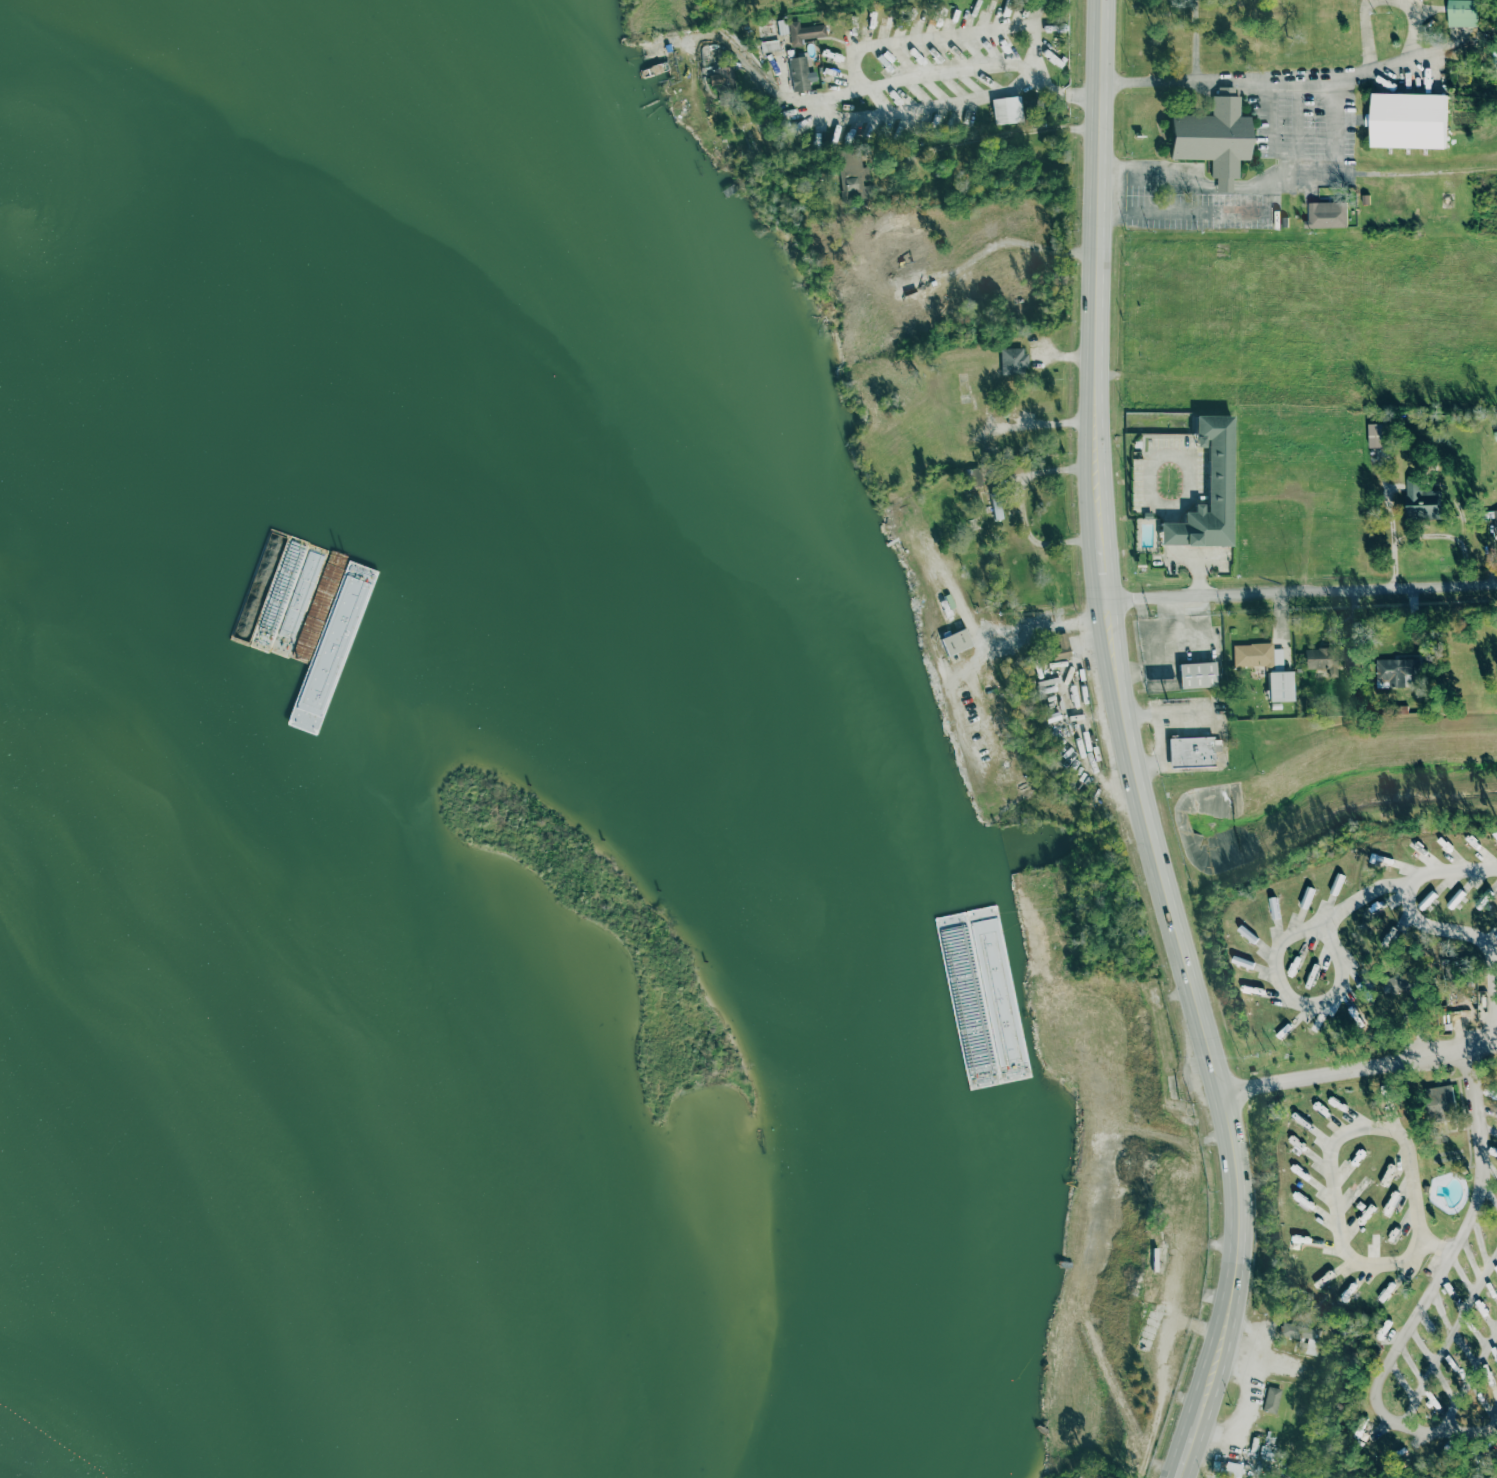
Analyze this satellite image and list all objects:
building: (1463, 13)
road: (1411, 26)
building: (782, 27)
building: (804, 32)
road: (1365, 33)
building: (839, 42)
building: (769, 45)
building: (669, 48)
building: (799, 73)
road: (1286, 79)
building: (724, 82)
road: (858, 85)
building: (1007, 111)
road: (905, 114)
building: (1409, 120)
road: (1273, 125)
road: (1295, 126)
building: (1213, 134)
road: (1000, 135)
road: (1335, 161)
road: (1180, 182)
building: (853, 183)
building: (1223, 184)
road: (1098, 209)
road: (1197, 213)
building: (1326, 214)
building: (909, 244)
road: (1065, 357)
building: (1014, 361)
road: (1047, 423)
building: (1376, 435)
building: (1495, 435)
road: (1094, 443)
building: (995, 449)
building: (960, 457)
building: (974, 478)
building: (1209, 489)
road: (1151, 493)
building: (1420, 499)
building: (996, 506)
road: (1022, 507)
building: (1493, 521)
road: (1426, 534)
road: (1300, 588)
road: (1041, 626)
road: (1085, 636)
building: (956, 643)
road: (980, 644)
building: (1061, 646)
building: (1253, 655)
building: (1331, 659)
building: (1401, 672)
building: (1198, 676)
building: (1044, 687)
building: (1280, 687)
road: (1079, 719)
road: (1160, 736)
building: (1193, 753)
road: (1403, 882)
road: (1476, 937)
road: (1189, 975)
building: (1399, 985)
road: (1295, 1002)
road: (1359, 1066)
building: (1440, 1103)
road: (1336, 1137)
river: (148, 1252)
road: (1428, 1291)
building: (1298, 1330)
building: (1148, 1333)
road: (1449, 1337)
road: (1469, 1379)
road: (1111, 1381)
building: (1271, 1399)
road: (1493, 1423)
building: (1269, 1452)
landfill: (31, 1453)
building: (1478, 1456)
building: (1447, 1461)
building: (1226, 1466)

